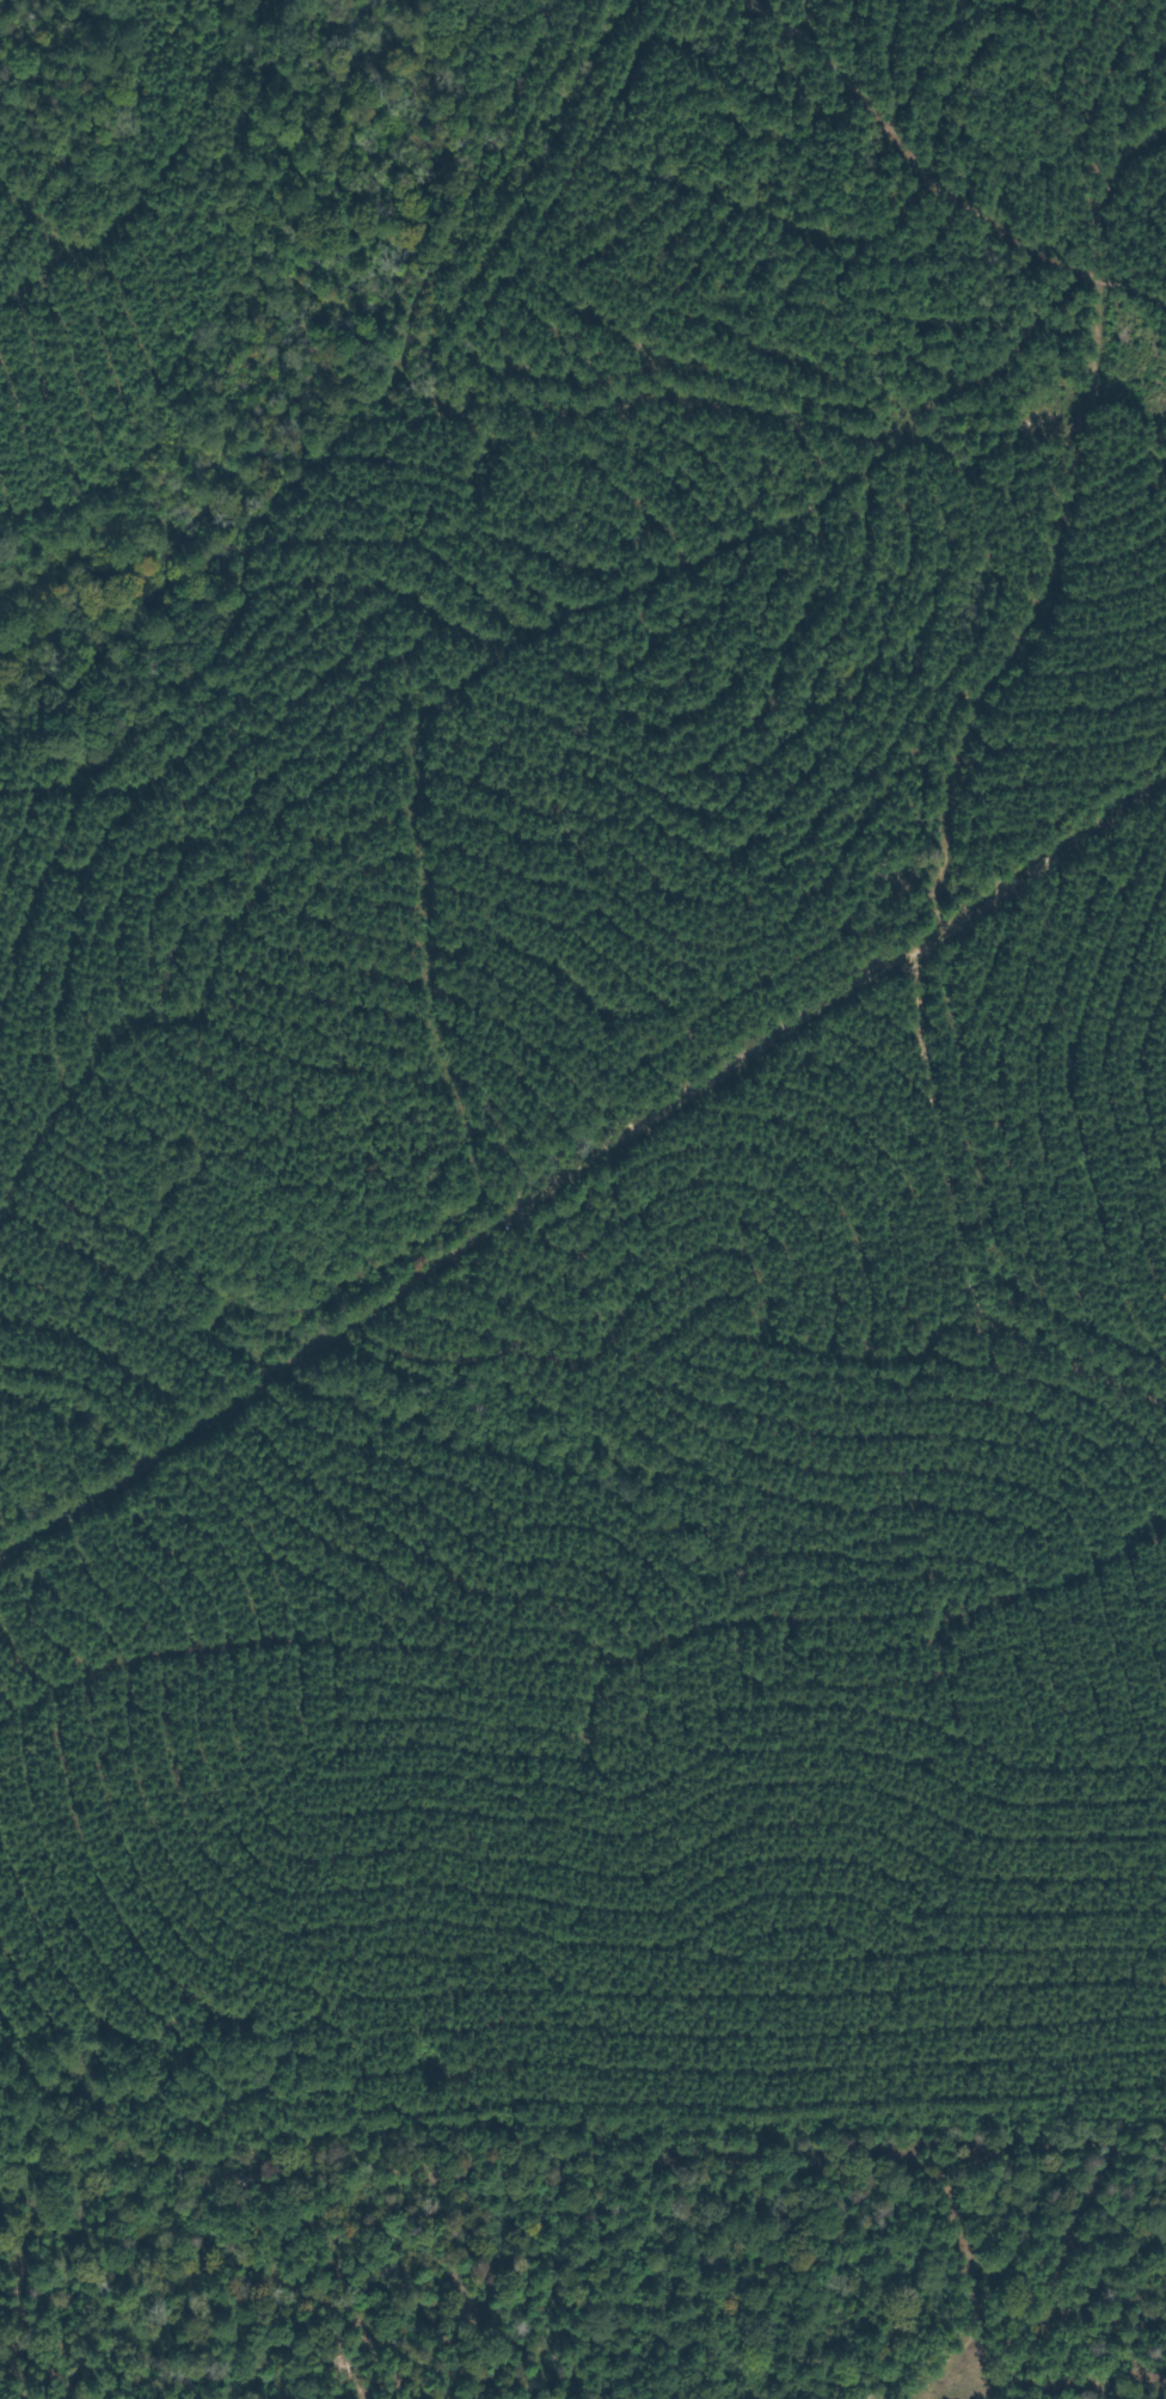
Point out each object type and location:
road: (1053, 838)

